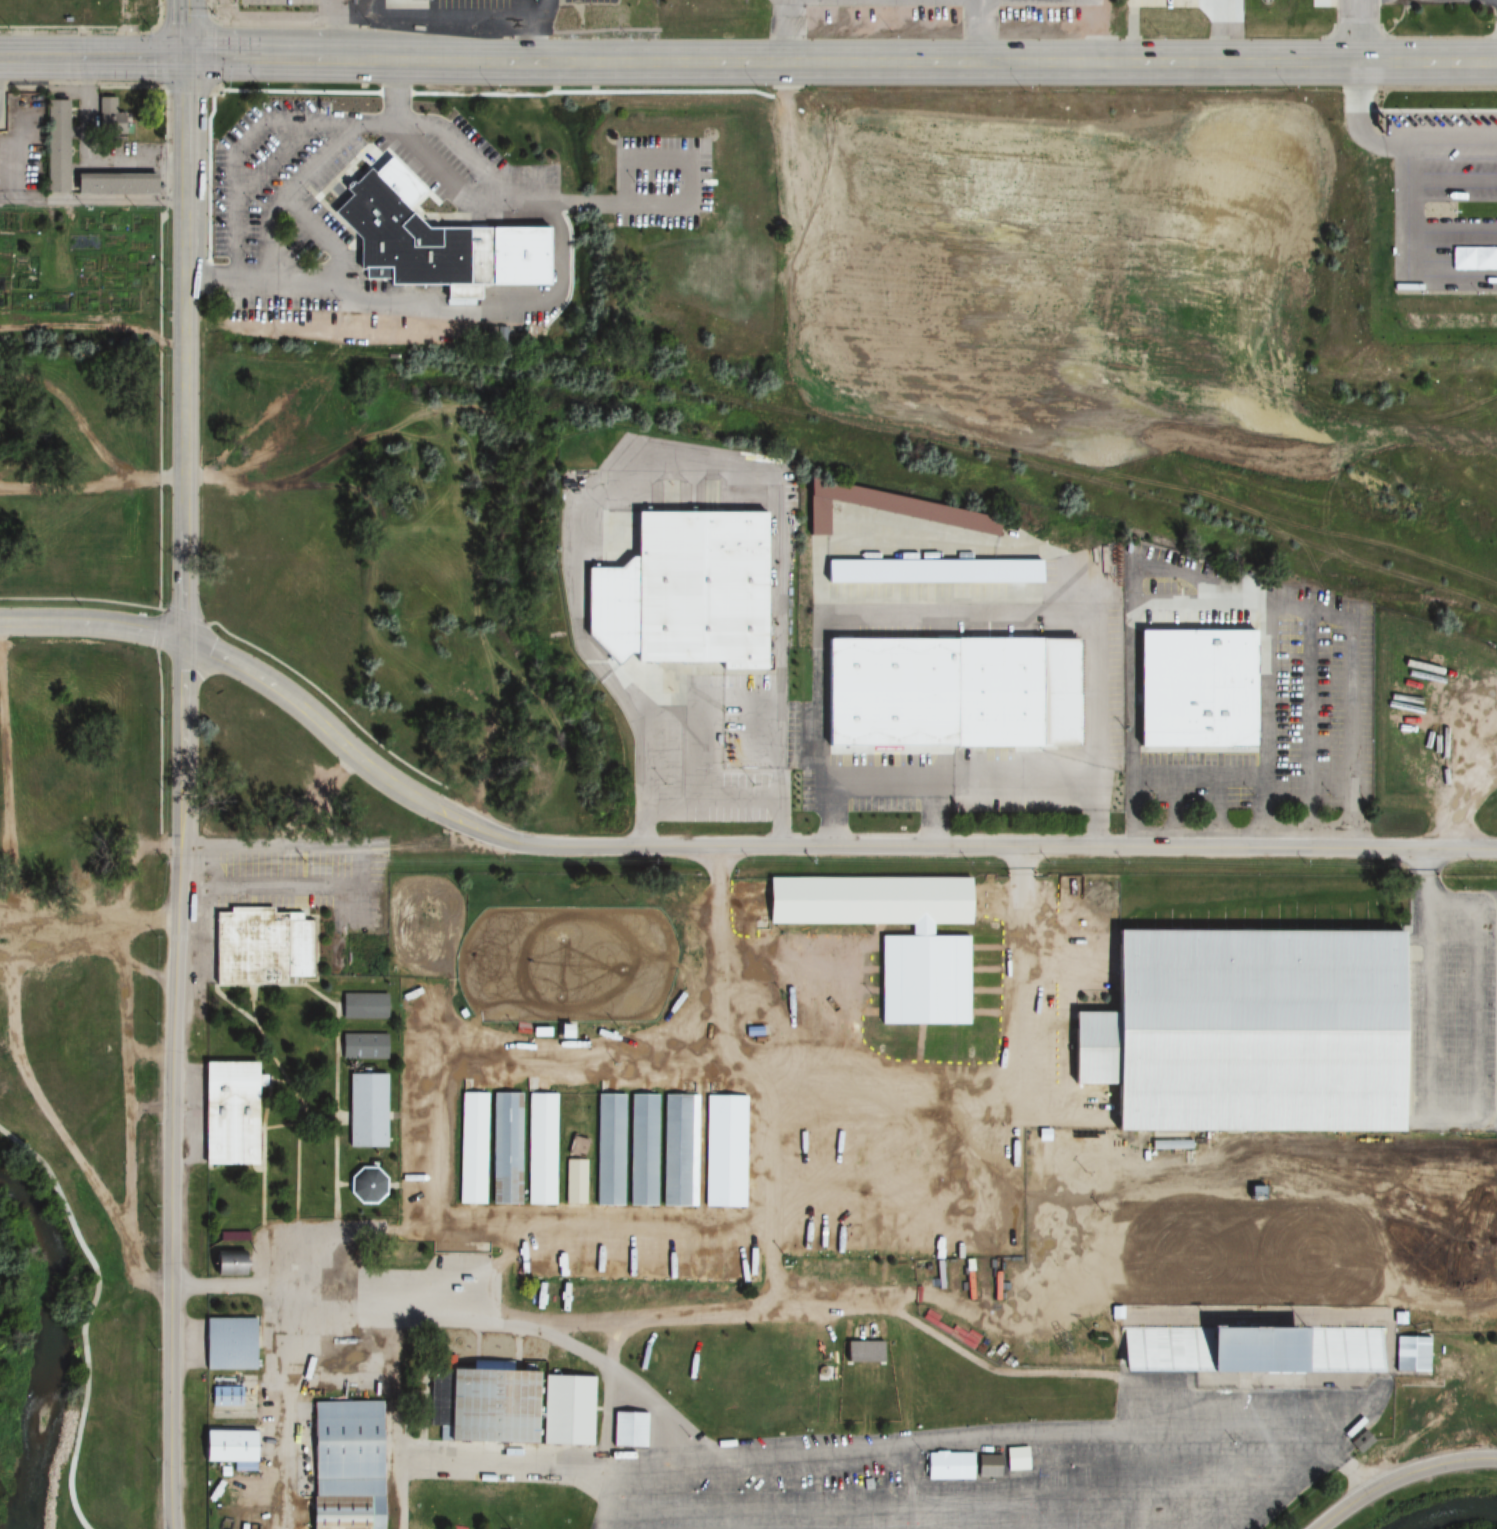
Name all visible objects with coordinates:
road: (186, 29)
road: (1357, 31)
road: (93, 59)
traffic signals: (187, 59)
road: (254, 59)
road: (909, 62)
building: (107, 116)
road: (186, 130)
building: (55, 145)
building: (111, 182)
road: (93, 201)
building: (414, 237)
road: (186, 241)
crop: (76, 262)
railway: (762, 404)
road: (160, 412)
road: (185, 459)
building: (882, 508)
building: (930, 571)
building: (682, 585)
road: (82, 599)
road: (186, 617)
road: (93, 624)
road: (158, 629)
building: (1191, 670)
building: (1011, 692)
road: (328, 698)
road: (159, 741)
road: (810, 846)
building: (868, 899)
building: (259, 947)
park: (565, 965)
building: (363, 1006)
parking lot: (1455, 1010)
building: (1242, 1031)
building: (365, 1046)
road: (178, 1084)
building: (366, 1111)
building: (226, 1113)
building: (820, 1144)
building: (471, 1148)
building: (505, 1148)
building: (540, 1149)
building: (669, 1151)
building: (574, 1182)
building: (368, 1185)
building: (227, 1263)
road: (87, 1318)
building: (228, 1344)
building: (1257, 1347)
building: (861, 1352)
building: (1409, 1354)
river: (53, 1360)
building: (811, 1390)
building: (225, 1396)
building: (511, 1407)
building: (627, 1430)
building: (1360, 1441)
building: (225, 1445)
building: (1015, 1459)
building: (344, 1465)
building: (961, 1466)
road: (1402, 1472)
river: (1458, 1516)

